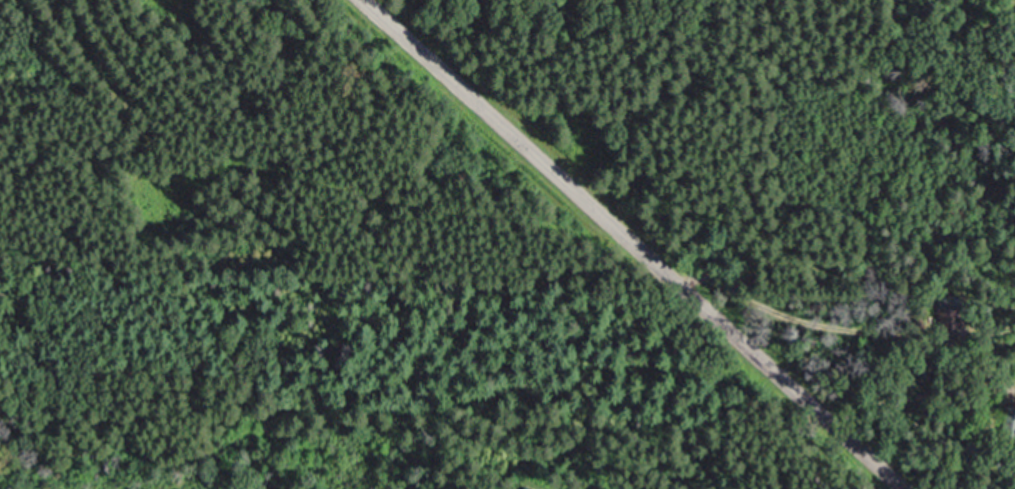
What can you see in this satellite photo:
road: (634, 244)

